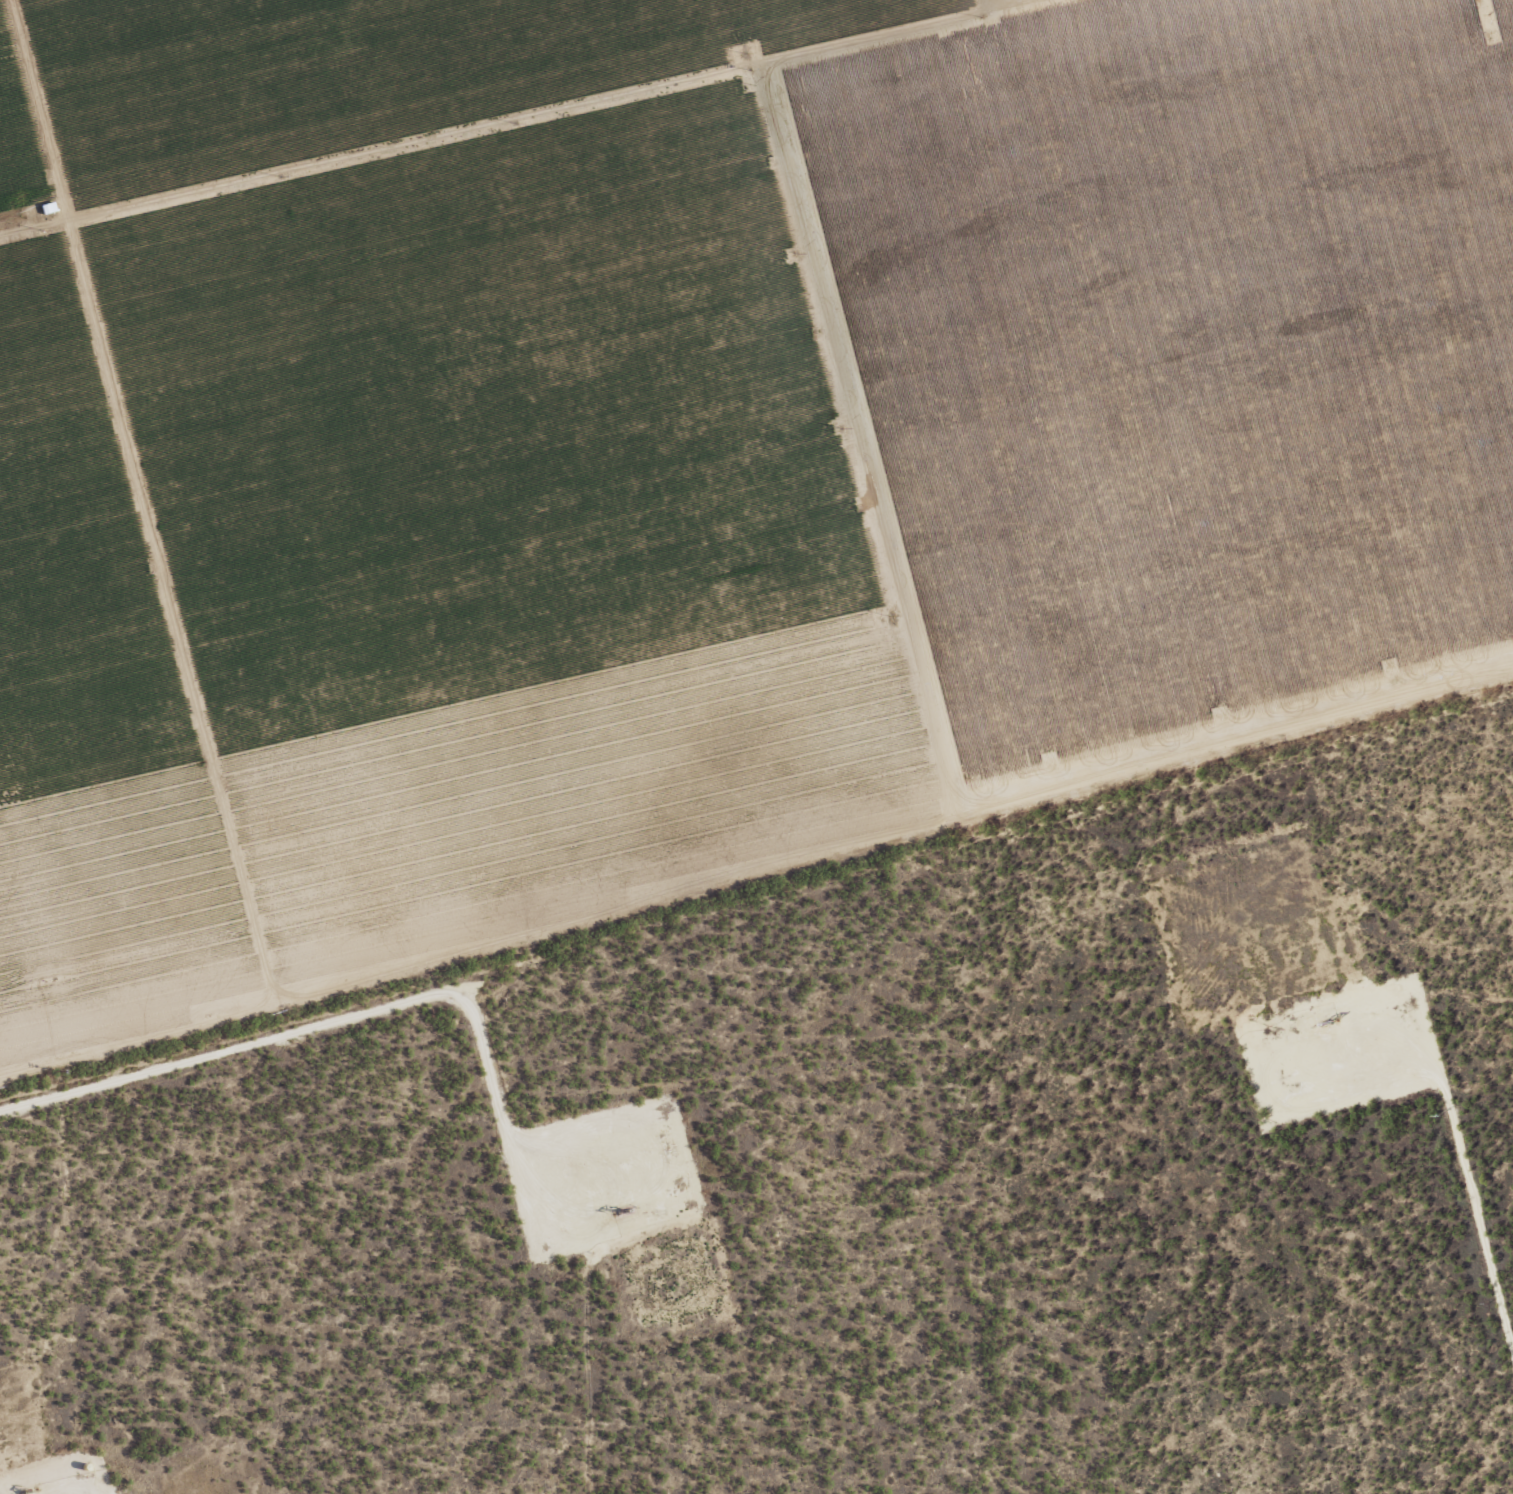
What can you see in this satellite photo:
road: (361, 1014)

